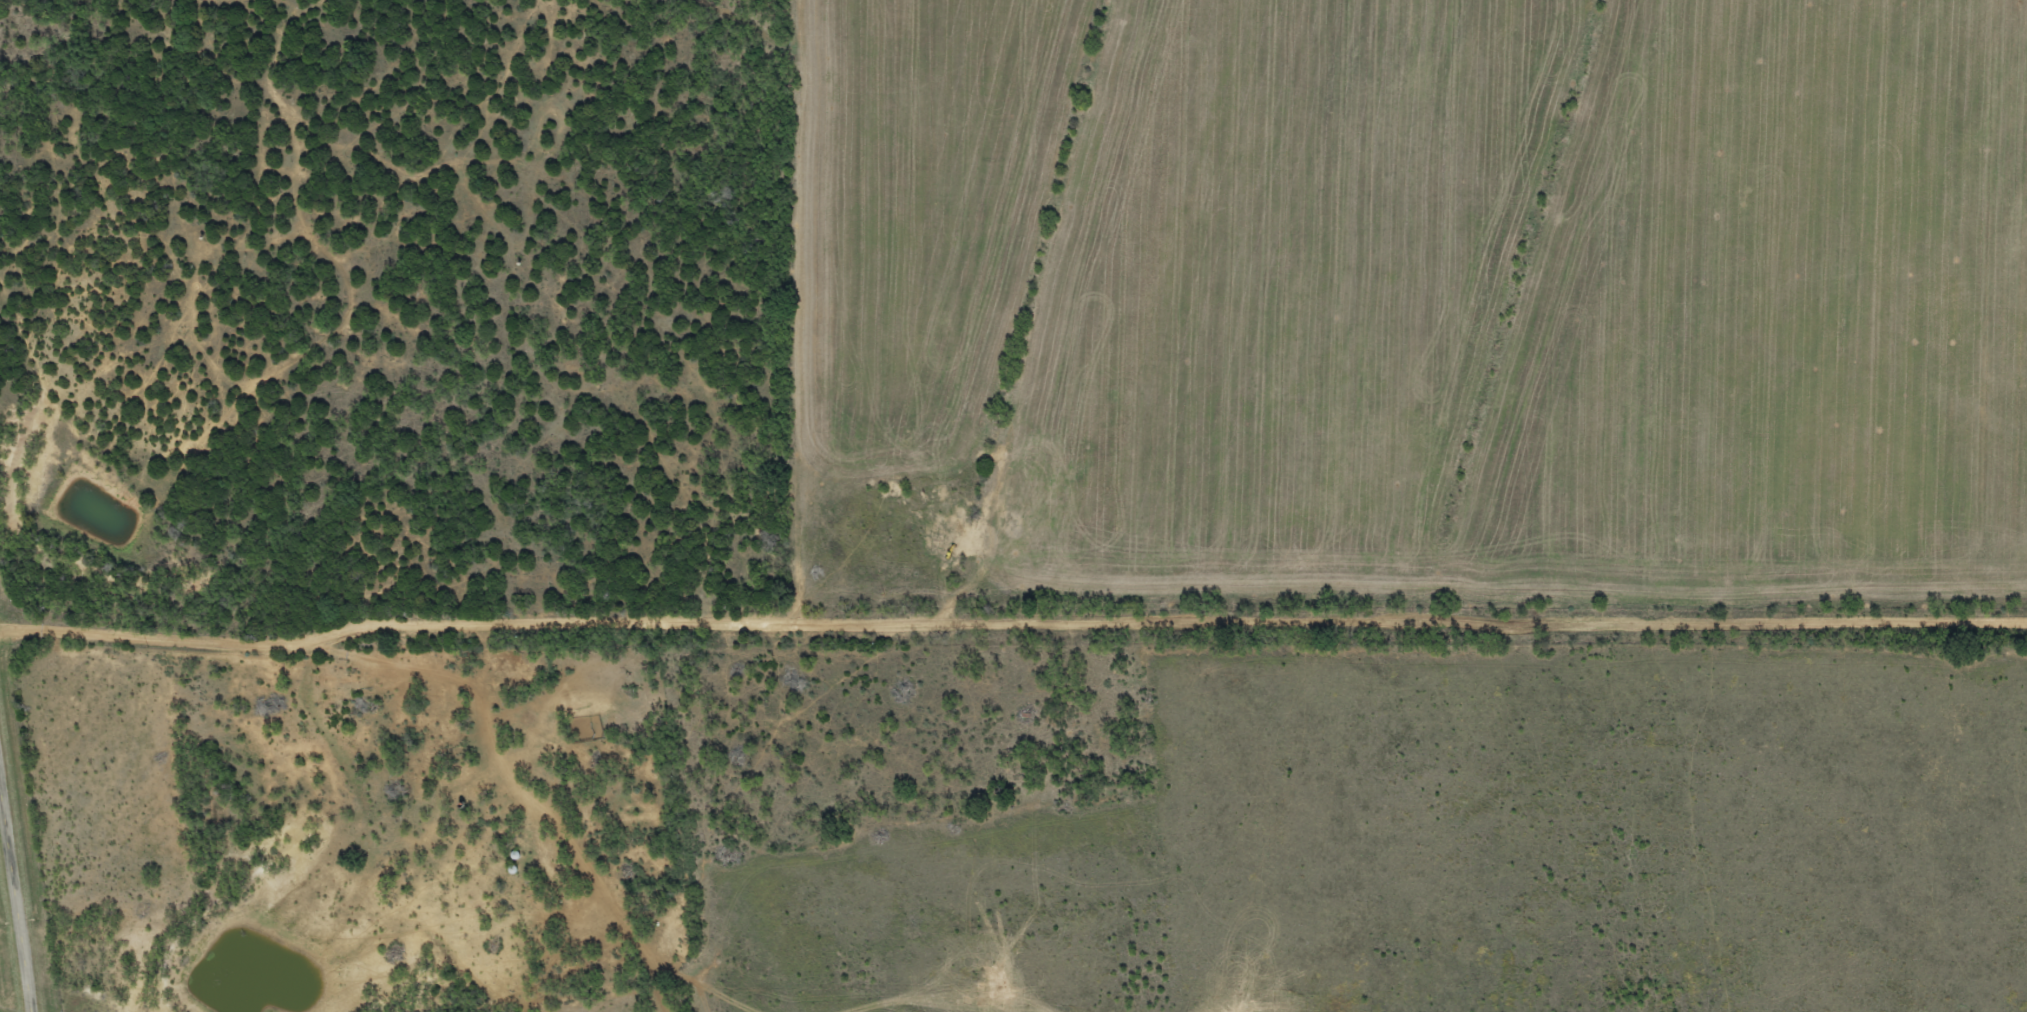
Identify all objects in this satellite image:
road: (1007, 605)
road: (397, 668)
road: (585, 847)
road: (17, 884)

